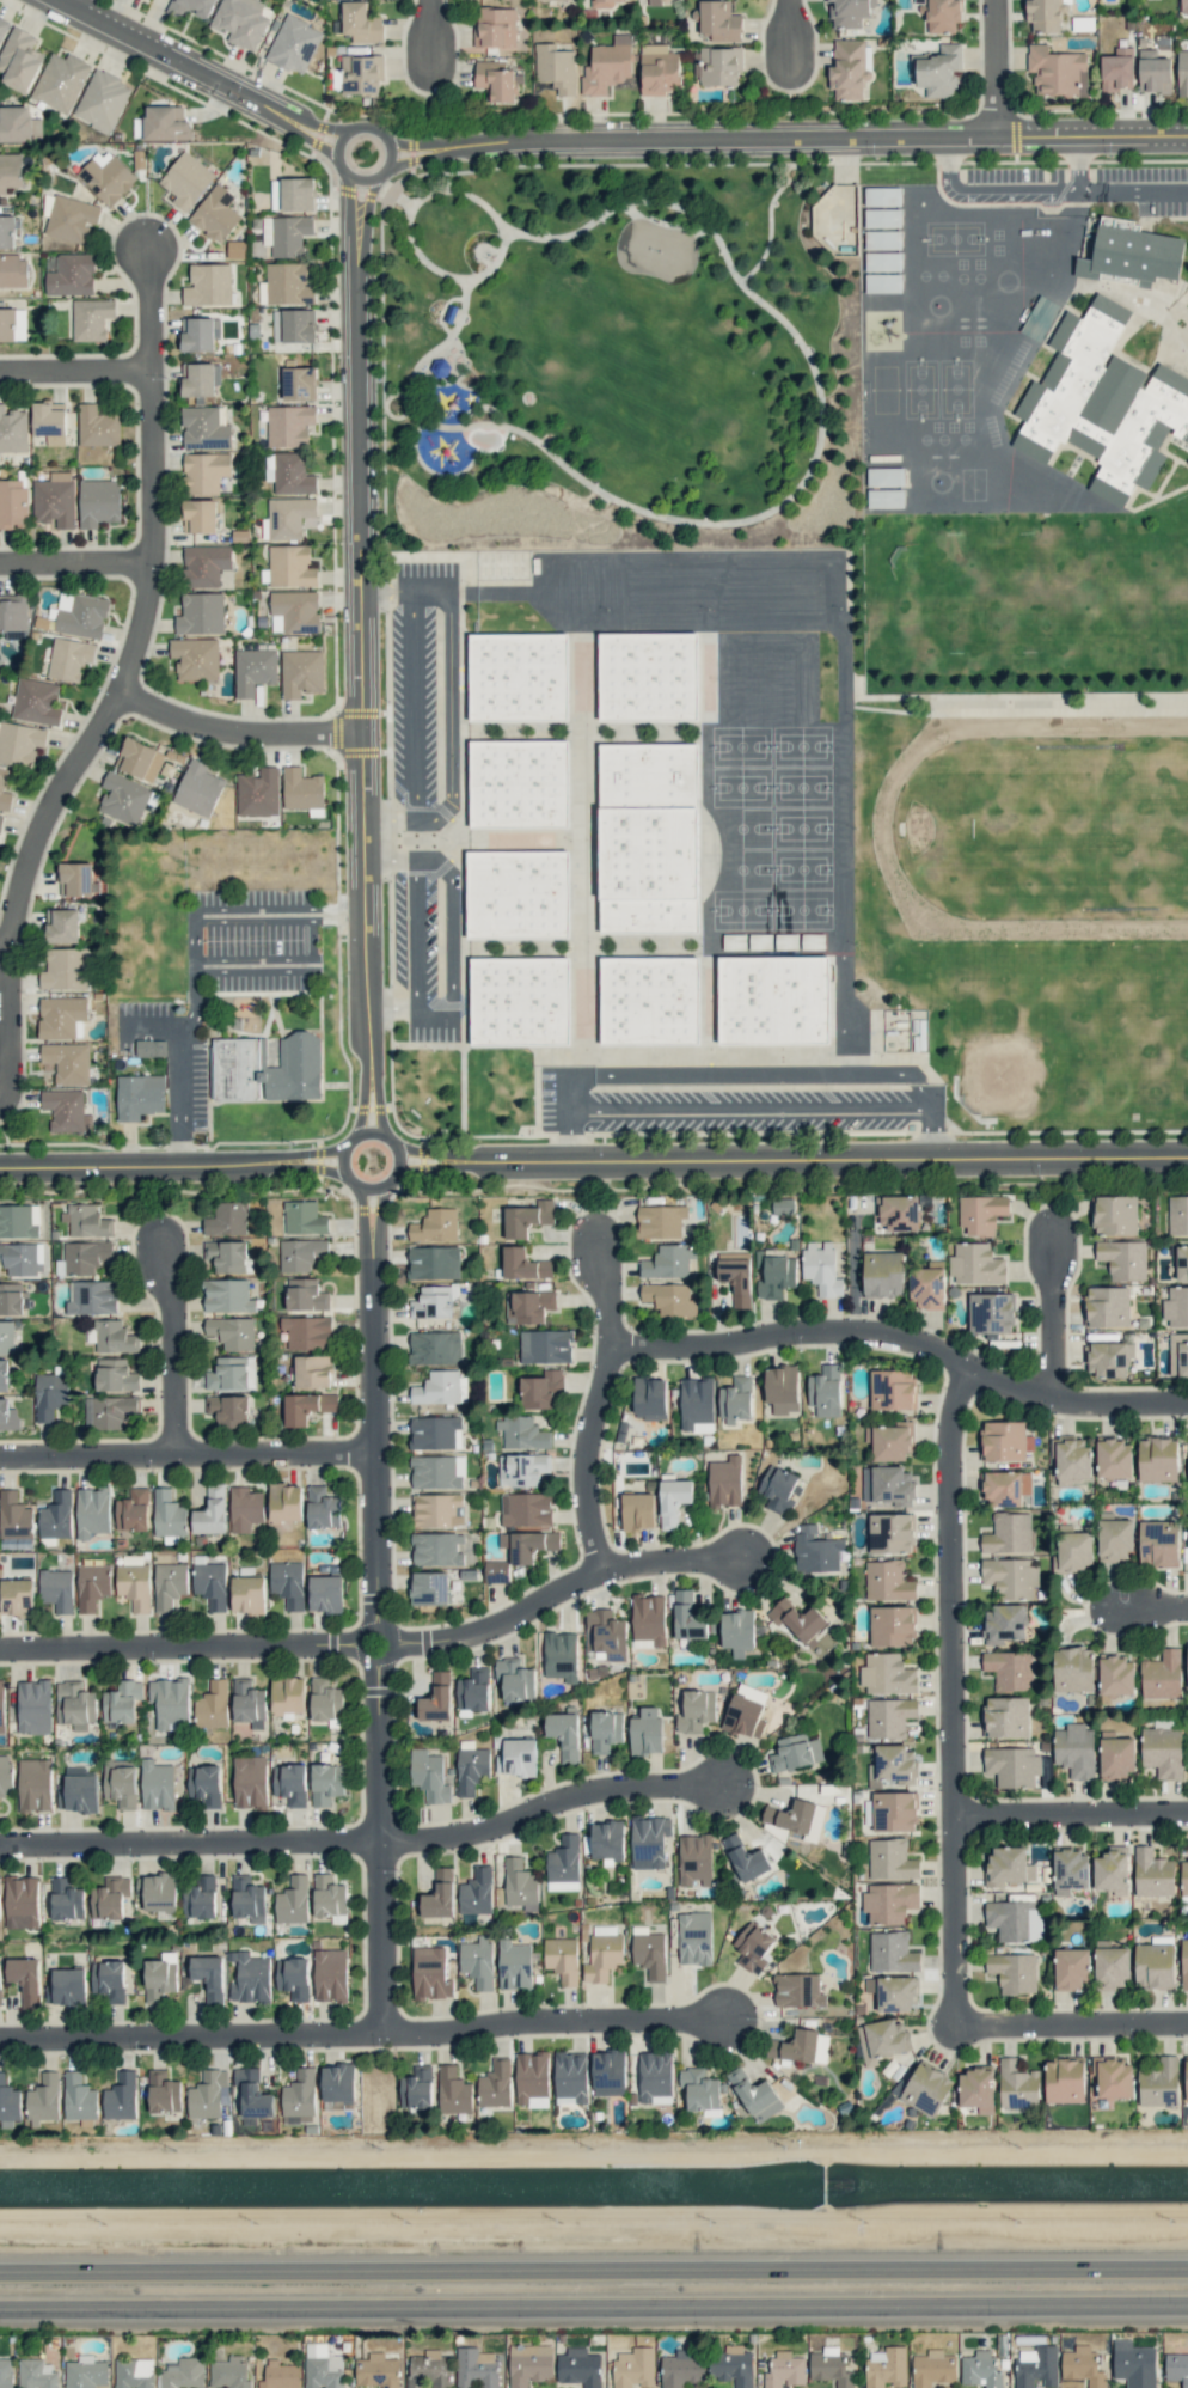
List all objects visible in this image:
building: (546, 0)
building: (659, 1)
building: (602, 4)
building: (1183, 5)
building: (190, 7)
building: (849, 12)
building: (942, 16)
building: (1045, 16)
building: (719, 20)
building: (241, 22)
building: (361, 23)
building: (2, 26)
building: (495, 26)
road: (792, 37)
road: (429, 38)
building: (294, 44)
building: (19, 60)
building: (607, 66)
building: (717, 66)
building: (556, 67)
building: (850, 68)
road: (1000, 68)
building: (659, 69)
building: (1117, 69)
building: (939, 71)
building: (1057, 71)
building: (1153, 72)
building: (1182, 73)
building: (361, 74)
building: (496, 80)
building: (60, 81)
building: (102, 100)
building: (166, 123)
building: (18, 124)
road: (607, 139)
road: (1078, 164)
building: (10, 171)
building: (106, 177)
building: (185, 179)
parking lot: (1009, 183)
road: (990, 191)
road: (1133, 191)
building: (296, 194)
building: (882, 196)
parking lot: (1143, 197)
building: (876, 204)
road: (394, 207)
road: (408, 212)
building: (215, 214)
road: (764, 216)
building: (882, 218)
building: (71, 219)
building: (877, 226)
building: (7, 232)
building: (286, 234)
building: (882, 239)
building: (876, 248)
building: (883, 261)
building: (1126, 263)
building: (13, 270)
building: (877, 270)
building: (72, 275)
road: (728, 282)
building: (287, 283)
building: (208, 285)
building: (877, 291)
road: (351, 292)
road: (147, 305)
building: (91, 318)
building: (12, 324)
building: (294, 325)
building: (197, 334)
park: (619, 358)
road: (74, 372)
building: (200, 379)
building: (299, 383)
building: (1098, 409)
building: (97, 426)
building: (288, 426)
building: (204, 428)
building: (13, 430)
building: (269, 466)
building: (204, 472)
building: (292, 474)
building: (878, 484)
building: (886, 499)
building: (55, 500)
building: (98, 502)
building: (13, 503)
building: (878, 506)
building: (198, 517)
building: (289, 517)
road: (75, 563)
building: (204, 564)
building: (290, 566)
building: (296, 610)
building: (200, 613)
building: (82, 616)
building: (68, 658)
building: (195, 658)
building: (253, 670)
building: (301, 673)
building: (644, 676)
building: (515, 677)
parking lot: (417, 700)
building: (36, 701)
road: (414, 706)
road: (93, 727)
road: (233, 734)
building: (19, 743)
road: (361, 751)
building: (139, 759)
building: (516, 783)
building: (198, 788)
building: (301, 788)
building: (4, 792)
building: (258, 792)
building: (123, 799)
building: (0, 819)
building: (645, 837)
road: (400, 854)
building: (75, 879)
building: (514, 894)
road: (280, 908)
building: (62, 926)
road: (416, 943)
road: (2, 946)
parking lot: (421, 951)
building: (65, 969)
building: (770, 1000)
building: (647, 1001)
building: (518, 1002)
road: (391, 1007)
building: (62, 1016)
road: (179, 1033)
park: (1183, 1043)
building: (149, 1048)
park: (1014, 1052)
building: (67, 1062)
building: (267, 1069)
building: (139, 1095)
road: (376, 1095)
road: (361, 1097)
parking lot: (736, 1098)
road: (751, 1106)
building: (66, 1110)
road: (306, 1152)
road: (431, 1153)
road: (397, 1159)
road: (828, 1162)
road: (134, 1166)
road: (429, 1168)
road: (307, 1169)
building: (899, 1213)
building: (981, 1213)
building: (1115, 1215)
building: (1177, 1215)
building: (304, 1217)
building: (527, 1217)
building: (227, 1219)
building: (19, 1221)
building: (86, 1221)
building: (660, 1221)
road: (359, 1226)
building: (435, 1226)
road: (380, 1228)
building: (301, 1253)
building: (228, 1256)
building: (86, 1257)
building: (23, 1259)
building: (1122, 1259)
building: (668, 1262)
building: (1182, 1262)
building: (434, 1263)
building: (523, 1264)
building: (975, 1264)
building: (821, 1268)
road: (852, 1271)
building: (776, 1274)
building: (883, 1274)
building: (736, 1276)
building: (927, 1284)
road: (598, 1289)
building: (305, 1295)
building: (227, 1296)
building: (92, 1297)
building: (11, 1299)
building: (669, 1299)
building: (433, 1301)
building: (528, 1306)
building: (1107, 1307)
building: (1176, 1307)
building: (991, 1313)
road: (1043, 1313)
building: (232, 1332)
building: (307, 1332)
building: (6, 1337)
building: (114, 1337)
road: (898, 1339)
building: (545, 1346)
road: (164, 1348)
building: (435, 1348)
building: (1178, 1354)
building: (1108, 1358)
building: (313, 1372)
building: (232, 1374)
building: (4, 1375)
building: (115, 1375)
building: (782, 1388)
building: (893, 1388)
building: (540, 1390)
building: (825, 1391)
building: (50, 1394)
building: (649, 1398)
building: (735, 1400)
building: (697, 1404)
building: (307, 1406)
building: (228, 1410)
building: (109, 1411)
building: (8, 1416)
building: (433, 1431)
building: (522, 1433)
building: (1187, 1437)
building: (890, 1441)
building: (1005, 1441)
road: (182, 1454)
road: (577, 1459)
building: (1071, 1459)
building: (1114, 1459)
building: (1157, 1459)
building: (521, 1470)
building: (437, 1472)
building: (725, 1482)
building: (888, 1484)
building: (1005, 1488)
building: (779, 1489)
building: (673, 1501)
building: (284, 1502)
building: (245, 1508)
building: (322, 1508)
building: (526, 1509)
building: (133, 1510)
building: (437, 1510)
building: (637, 1510)
building: (92, 1511)
building: (212, 1511)
building: (169, 1514)
building: (56, 1515)
building: (14, 1520)
building: (890, 1533)
building: (1008, 1533)
building: (1115, 1540)
building: (1158, 1543)
building: (527, 1545)
building: (436, 1549)
building: (816, 1550)
building: (1074, 1551)
road: (663, 1561)
building: (496, 1571)
building: (1010, 1577)
building: (888, 1581)
building: (287, 1583)
building: (134, 1584)
building: (169, 1584)
building: (210, 1584)
building: (92, 1586)
building: (428, 1588)
building: (56, 1589)
building: (247, 1594)
building: (325, 1594)
building: (17, 1598)
road: (1146, 1604)
building: (687, 1617)
building: (648, 1620)
building: (798, 1620)
building: (1004, 1623)
building: (893, 1626)
building: (737, 1631)
building: (606, 1633)
road: (304, 1644)
road: (368, 1648)
building: (1187, 1654)
building: (561, 1656)
building: (1010, 1669)
building: (1073, 1669)
building: (887, 1674)
building: (1116, 1675)
building: (1162, 1675)
building: (514, 1678)
building: (473, 1690)
building: (752, 1692)
road: (943, 1692)
building: (288, 1694)
building: (436, 1698)
building: (325, 1699)
building: (122, 1702)
building: (170, 1702)
building: (249, 1703)
building: (75, 1705)
building: (213, 1705)
building: (1, 1706)
building: (33, 1706)
building: (696, 1711)
building: (743, 1716)
building: (889, 1717)
building: (1006, 1717)
building: (605, 1730)
building: (645, 1730)
building: (564, 1734)
building: (1076, 1749)
building: (1162, 1751)
building: (795, 1752)
building: (1117, 1757)
building: (516, 1758)
building: (894, 1764)
building: (1012, 1765)
building: (471, 1770)
building: (5, 1775)
building: (429, 1776)
building: (250, 1782)
building: (290, 1783)
building: (326, 1783)
building: (35, 1784)
building: (121, 1784)
building: (206, 1784)
building: (158, 1785)
building: (80, 1790)
road: (538, 1803)
road: (1066, 1809)
building: (894, 1810)
building: (797, 1818)
building: (605, 1840)
building: (649, 1840)
road: (184, 1842)
building: (746, 1858)
building: (696, 1859)
building: (890, 1859)
building: (564, 1864)
building: (1008, 1867)
building: (1112, 1869)
building: (1070, 1870)
building: (1152, 1873)
building: (1183, 1880)
building: (520, 1885)
building: (159, 1892)
building: (476, 1892)
building: (327, 1895)
building: (439, 1895)
building: (110, 1898)
building: (201, 1898)
building: (246, 1898)
building: (65, 1899)
building: (293, 1900)
building: (22, 1901)
building: (889, 1903)
building: (0, 1914)
building: (1015, 1920)
building: (694, 1937)
building: (753, 1947)
building: (649, 1952)
building: (892, 1952)
building: (602, 1956)
building: (562, 1959)
building: (477, 1961)
building: (1184, 1962)
building: (514, 1965)
building: (1155, 1966)
building: (1112, 1967)
building: (1072, 1968)
building: (1014, 1972)
building: (430, 1973)
building: (330, 1974)
building: (160, 1975)
building: (208, 1975)
building: (250, 1978)
building: (293, 1978)
building: (25, 1979)
building: (109, 1980)
building: (0, 1983)
building: (68, 1986)
building: (797, 1990)
building: (896, 1993)
road: (543, 2020)
road: (1067, 2020)
road: (185, 2035)
building: (882, 2040)
building: (795, 2046)
building: (608, 2072)
building: (570, 2075)
building: (655, 2077)
building: (1113, 2077)
building: (531, 2078)
building: (1186, 2078)
building: (1064, 2079)
building: (1159, 2083)
building: (337, 2084)
building: (495, 2084)
building: (1017, 2085)
building: (416, 2088)
building: (926, 2088)
building: (699, 2089)
building: (976, 2089)
building: (453, 2090)
building: (163, 2091)
building: (208, 2094)
building: (252, 2094)
building: (754, 2095)
building: (120, 2096)
building: (79, 2097)
building: (299, 2097)
building: (43, 2099)
building: (8, 2102)
road: (593, 2267)
road: (594, 2296)
building: (529, 2364)
building: (1134, 2364)
building: (731, 2365)
building: (1083, 2365)
building: (578, 2366)
building: (831, 2366)
building: (886, 2366)
building: (1036, 2366)
building: (323, 2368)
building: (476, 2368)
building: (633, 2368)
building: (682, 2368)
building: (933, 2368)
building: (1176, 2368)
building: (376, 2370)
building: (429, 2370)
building: (980, 2370)
building: (231, 2371)
building: (6, 2372)
building: (85, 2372)
building: (134, 2372)
building: (183, 2372)
building: (37, 2374)
building: (280, 2375)

